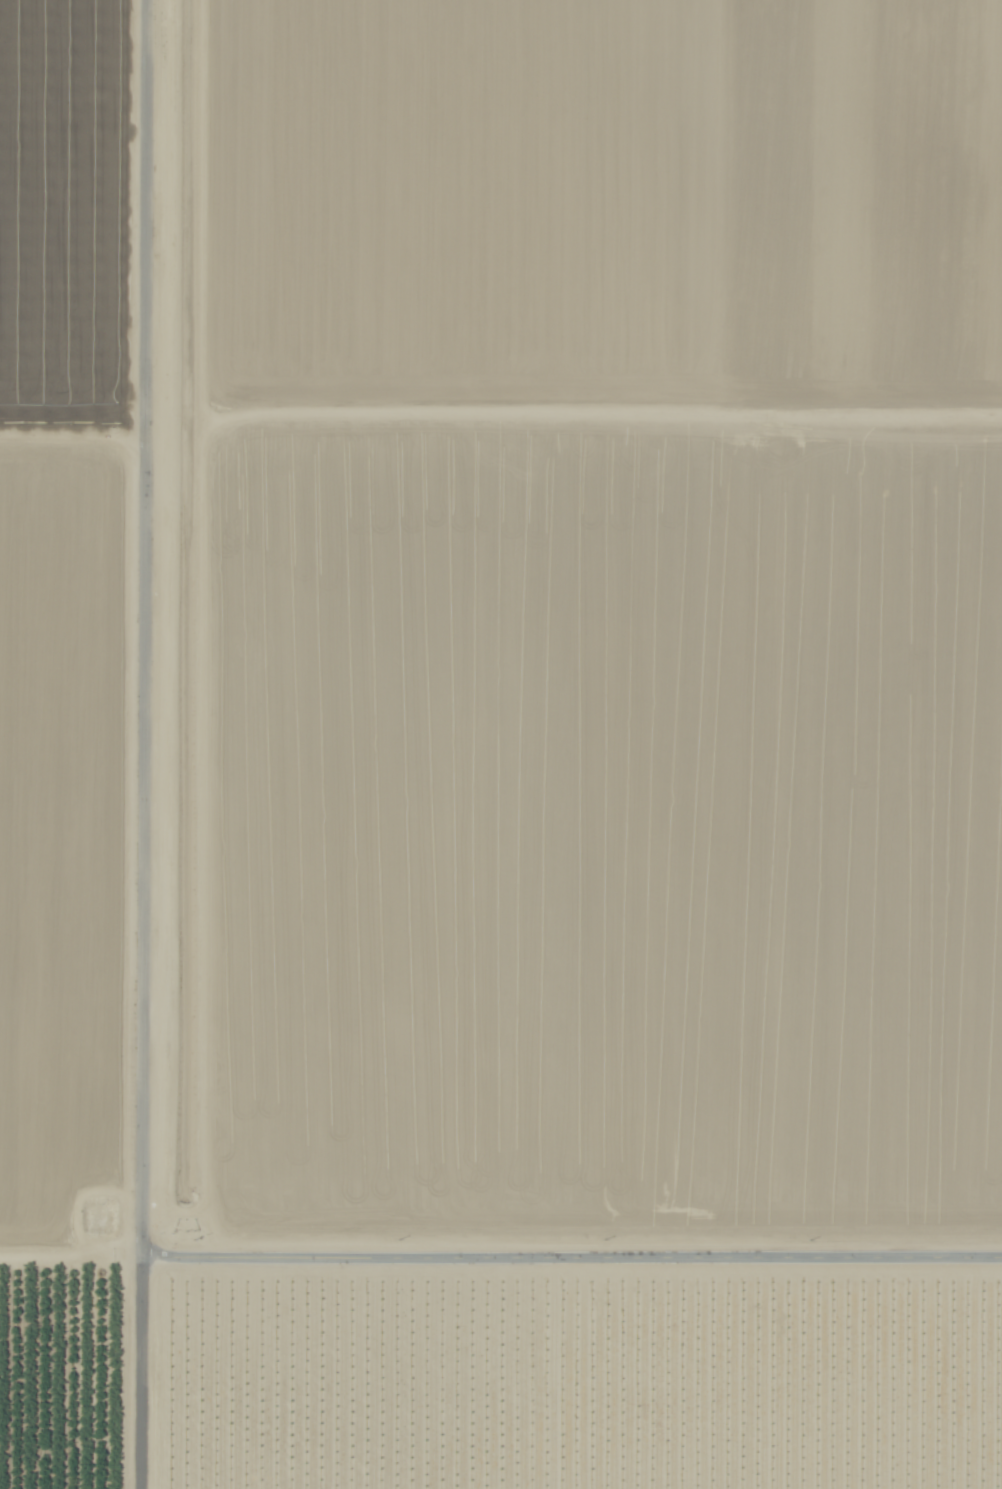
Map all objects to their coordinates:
crop: (599, 620)
crop: (64, 741)
road: (144, 744)
road: (71, 1257)
road: (572, 1258)

